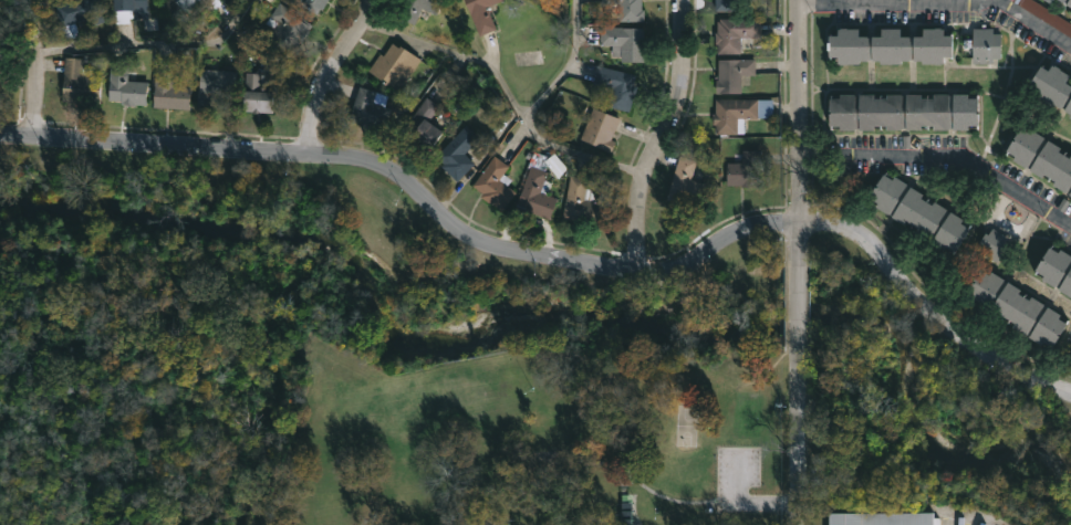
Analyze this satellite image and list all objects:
building: (1049, 0)
building: (1068, 1)
building: (216, 2)
road: (942, 2)
building: (185, 3)
building: (316, 4)
building: (727, 4)
building: (418, 8)
building: (128, 10)
building: (630, 10)
building: (1070, 10)
building: (77, 14)
building: (481, 14)
building: (1070, 14)
building: (290, 27)
building: (734, 33)
building: (624, 42)
road: (153, 43)
building: (984, 43)
building: (890, 44)
road: (445, 49)
road: (37, 66)
building: (394, 66)
road: (309, 74)
building: (732, 74)
building: (79, 84)
building: (215, 84)
building: (124, 85)
building: (616, 85)
building: (1052, 86)
building: (169, 87)
building: (263, 92)
building: (368, 108)
building: (901, 109)
building: (732, 115)
road: (523, 117)
building: (424, 122)
building: (600, 129)
road: (802, 133)
road: (659, 134)
building: (458, 153)
road: (946, 156)
building: (1041, 156)
building: (746, 169)
building: (687, 181)
building: (495, 185)
building: (538, 188)
building: (582, 202)
building: (918, 211)
building: (992, 243)
road: (557, 258)
building: (1056, 267)
road: (798, 307)
building: (1018, 307)
road: (803, 437)
park: (537, 441)
road: (757, 505)
building: (882, 518)

